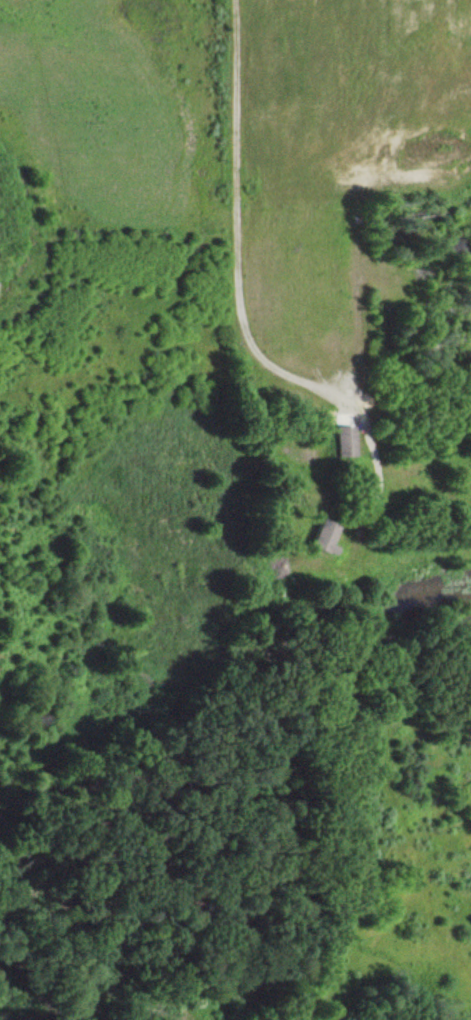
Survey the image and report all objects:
building: (341, 441)
building: (320, 536)

